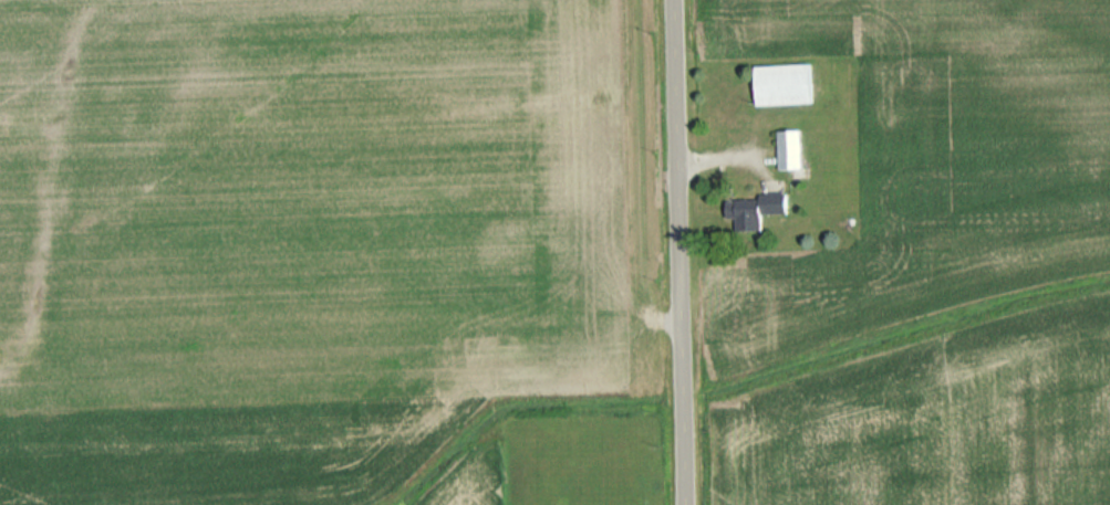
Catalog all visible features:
building: (785, 84)
building: (789, 149)
building: (755, 210)
road: (681, 252)

